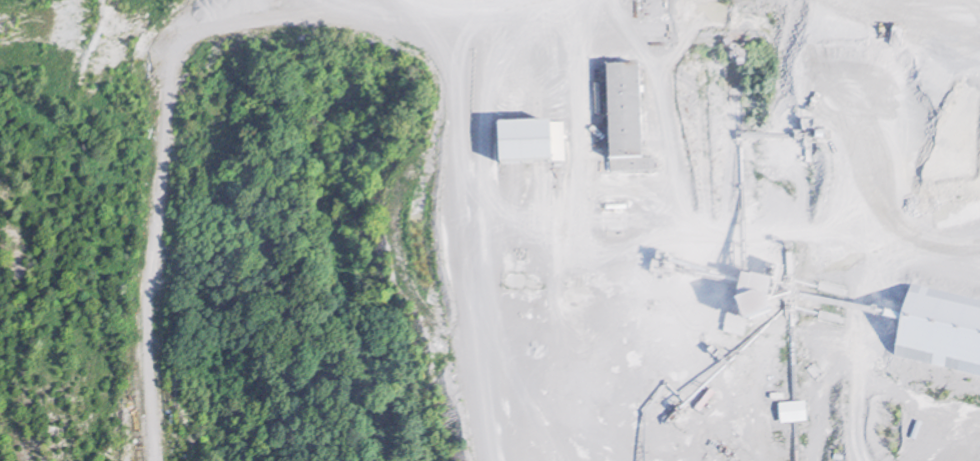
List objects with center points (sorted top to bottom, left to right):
road: (925, 5)
road: (468, 19)
building: (630, 111)
road: (660, 112)
road: (572, 119)
road: (156, 125)
building: (539, 132)
building: (462, 152)
building: (465, 171)
road: (547, 218)
quarry: (541, 222)
road: (671, 236)
road: (461, 239)
road: (860, 343)
road: (508, 354)
building: (796, 412)

